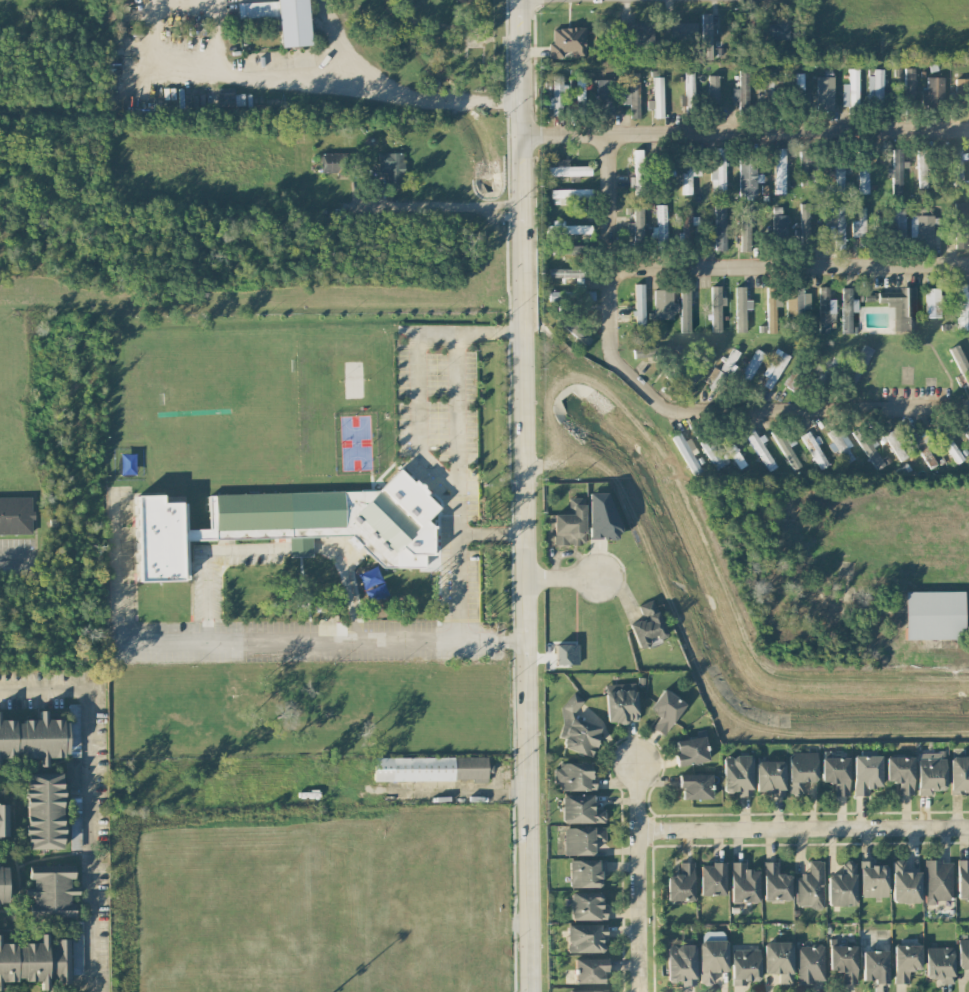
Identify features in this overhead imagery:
building: (251, 0)
building: (282, 18)
building: (680, 29)
building: (771, 30)
building: (636, 33)
building: (706, 35)
road: (336, 39)
building: (567, 41)
road: (163, 65)
building: (909, 82)
building: (875, 84)
building: (961, 84)
road: (375, 85)
building: (799, 85)
building: (743, 87)
building: (579, 88)
building: (712, 88)
building: (934, 88)
building: (850, 89)
building: (557, 93)
building: (618, 93)
building: (824, 93)
building: (658, 96)
road: (743, 115)
building: (337, 162)
building: (392, 166)
building: (807, 166)
building: (957, 166)
building: (922, 168)
building: (566, 169)
building: (897, 169)
building: (779, 170)
building: (638, 171)
building: (718, 173)
building: (688, 177)
building: (748, 177)
building: (835, 178)
building: (863, 180)
road: (610, 184)
building: (569, 193)
road: (403, 206)
building: (961, 211)
building: (804, 218)
building: (892, 220)
building: (635, 222)
building: (659, 223)
building: (687, 223)
building: (859, 223)
building: (779, 225)
building: (836, 225)
building: (719, 227)
building: (744, 227)
building: (567, 228)
building: (921, 230)
building: (960, 236)
building: (572, 252)
building: (567, 273)
building: (571, 295)
building: (797, 300)
building: (932, 301)
building: (663, 304)
building: (639, 305)
building: (962, 305)
building: (901, 306)
building: (716, 307)
building: (740, 308)
building: (825, 308)
building: (848, 308)
building: (685, 309)
building: (772, 309)
road: (613, 312)
building: (577, 331)
building: (644, 351)
building: (961, 361)
building: (751, 365)
building: (805, 367)
building: (772, 369)
road: (421, 387)
road: (538, 431)
building: (967, 435)
building: (841, 442)
building: (897, 442)
building: (951, 447)
building: (785, 448)
building: (814, 449)
building: (732, 450)
building: (760, 450)
building: (871, 450)
building: (686, 451)
building: (711, 452)
building: (925, 452)
road: (523, 495)
building: (15, 514)
building: (601, 515)
building: (293, 522)
building: (570, 523)
building: (300, 546)
road: (460, 552)
road: (11, 555)
road: (211, 561)
road: (562, 580)
road: (349, 582)
building: (934, 614)
building: (647, 624)
road: (252, 639)
building: (566, 653)
building: (621, 702)
building: (665, 710)
building: (576, 729)
building: (33, 737)
building: (690, 750)
building: (431, 768)
building: (800, 769)
building: (73, 773)
building: (835, 773)
building: (865, 773)
building: (899, 773)
building: (737, 774)
building: (959, 774)
building: (930, 775)
building: (572, 776)
building: (769, 776)
building: (695, 785)
road: (87, 801)
building: (580, 808)
building: (43, 810)
building: (3, 819)
building: (75, 822)
road: (805, 827)
building: (582, 839)
building: (585, 872)
building: (963, 877)
building: (712, 878)
building: (872, 879)
road: (641, 880)
building: (938, 880)
building: (743, 882)
building: (775, 882)
building: (681, 883)
building: (904, 883)
building: (3, 884)
building: (810, 885)
building: (842, 885)
building: (50, 892)
building: (586, 905)
building: (584, 937)
building: (78, 944)
building: (963, 953)
building: (711, 958)
building: (778, 959)
building: (842, 960)
building: (905, 960)
building: (36, 961)
building: (681, 963)
building: (809, 963)
building: (939, 963)
building: (744, 965)
building: (875, 965)
building: (589, 969)
building: (588, 990)

